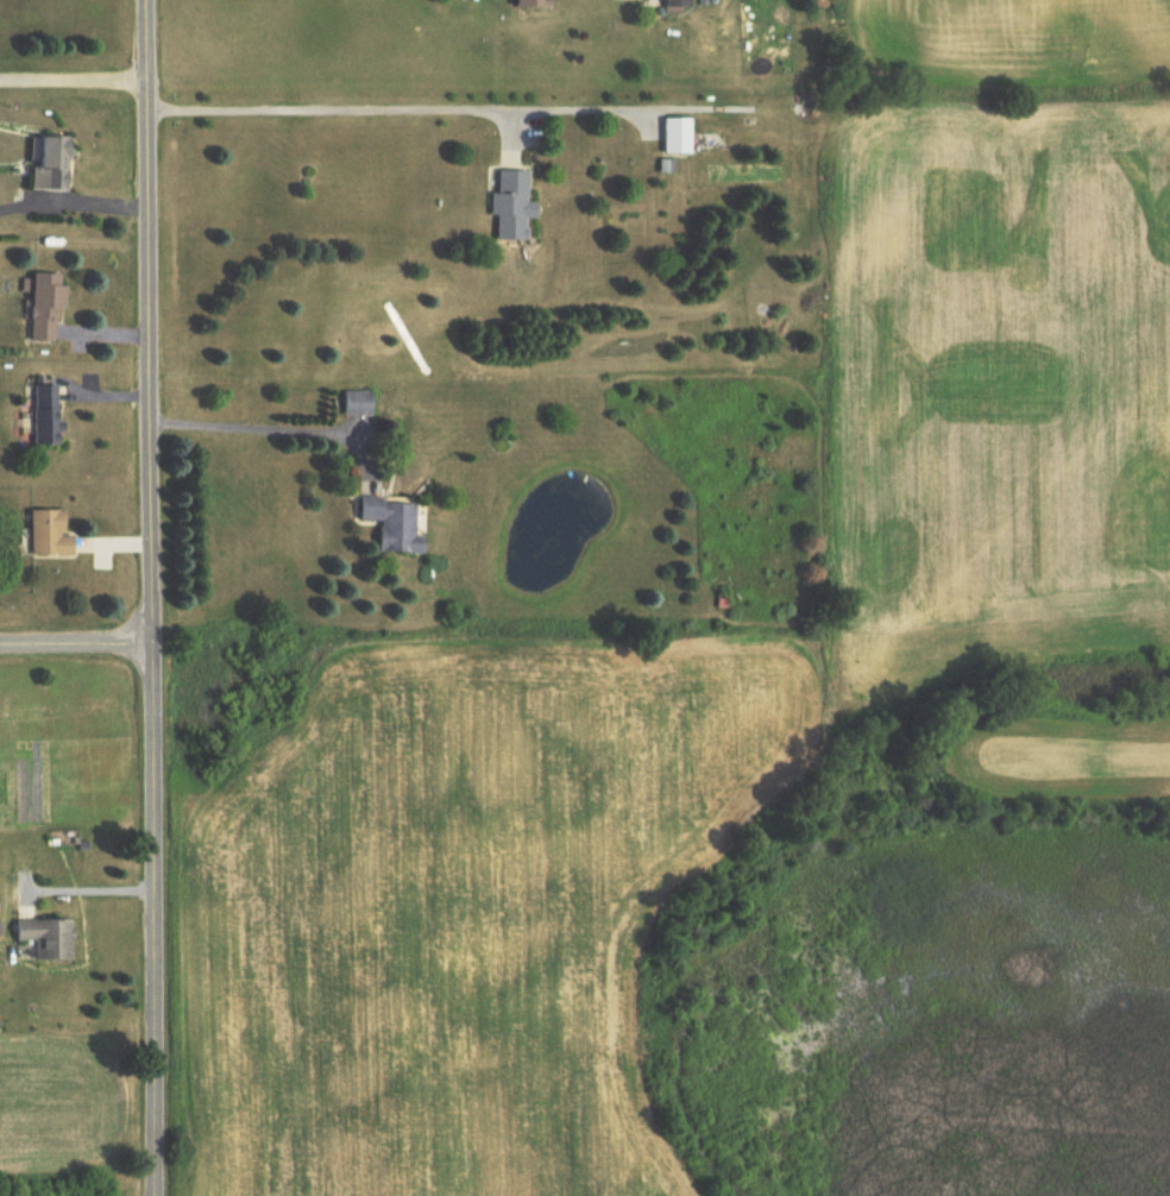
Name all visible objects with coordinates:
building: (673, 2)
building: (521, 4)
road: (71, 81)
road: (321, 107)
building: (673, 136)
building: (56, 163)
building: (507, 204)
building: (49, 309)
building: (359, 404)
building: (46, 416)
road: (262, 427)
building: (396, 524)
building: (51, 535)
road: (149, 597)
road: (75, 646)
road: (87, 890)
building: (49, 938)

